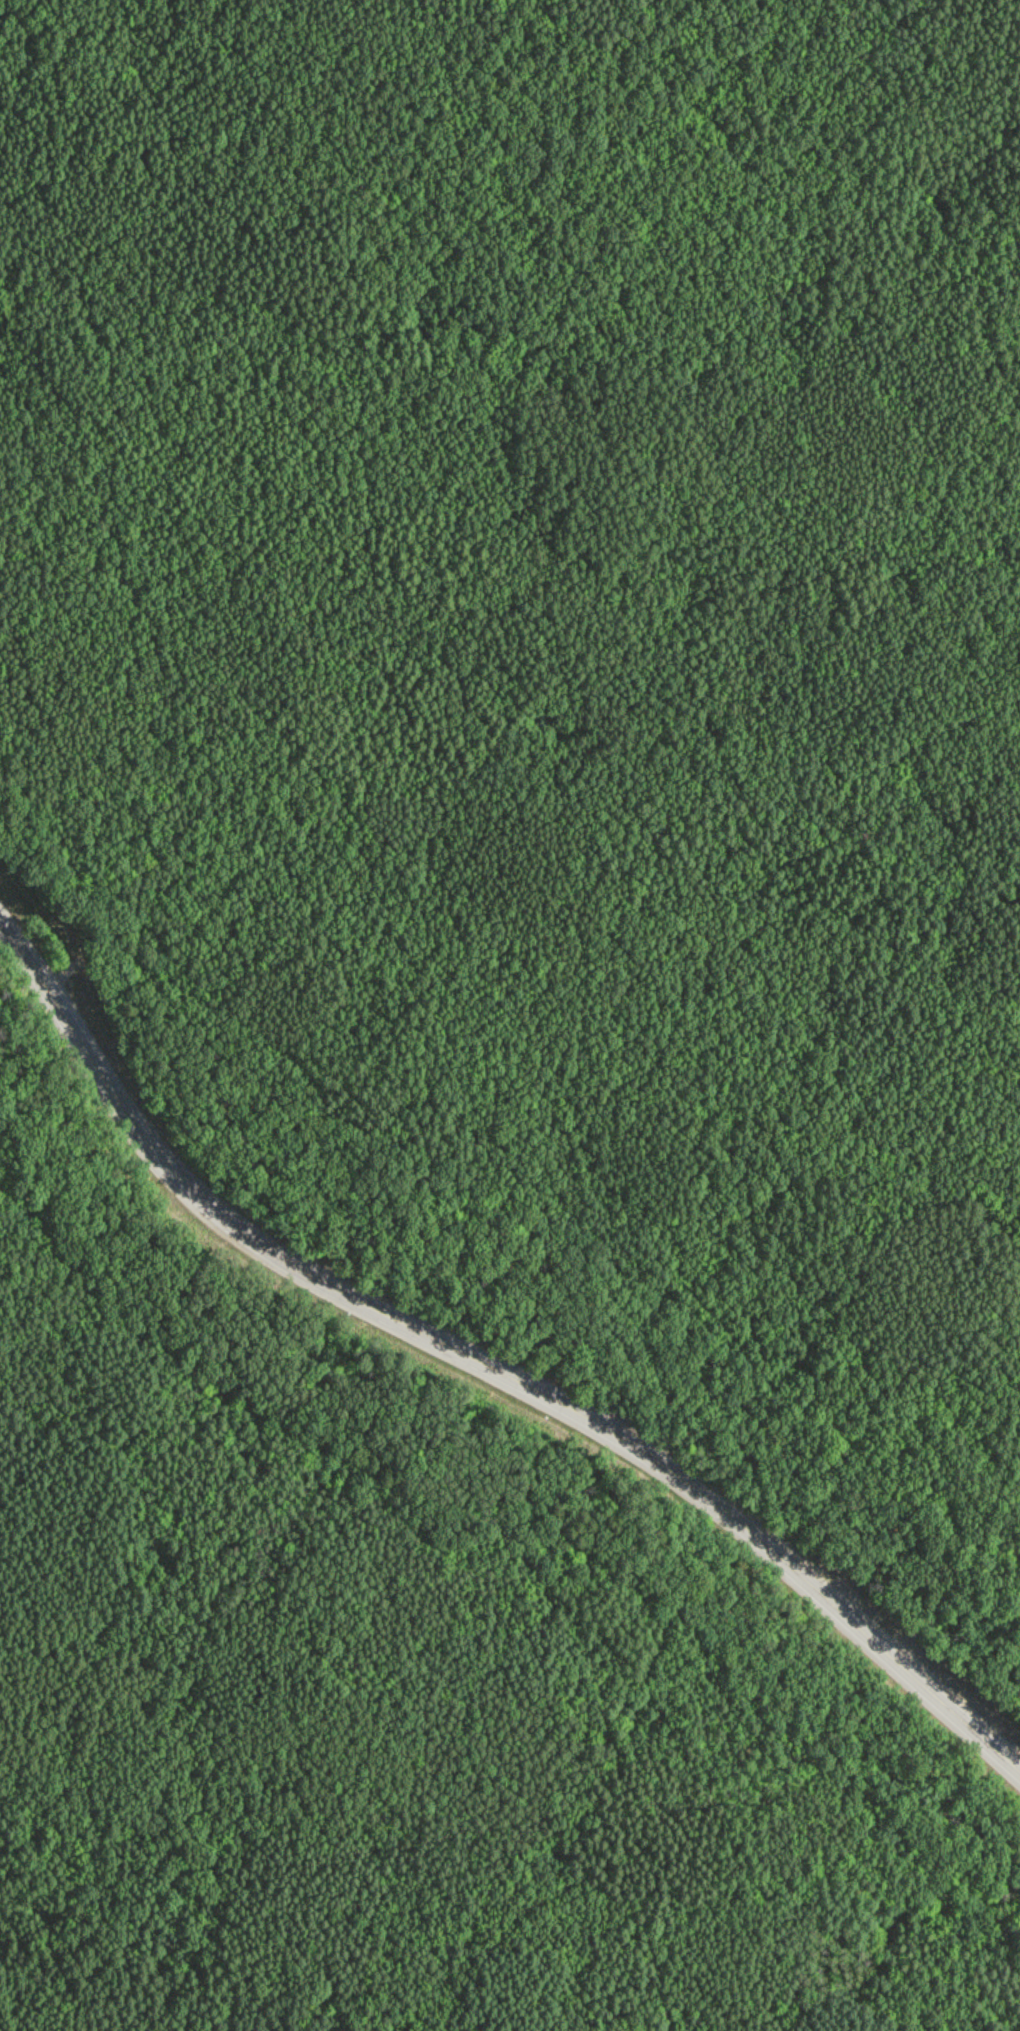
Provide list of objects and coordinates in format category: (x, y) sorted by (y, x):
road: (486, 1364)

